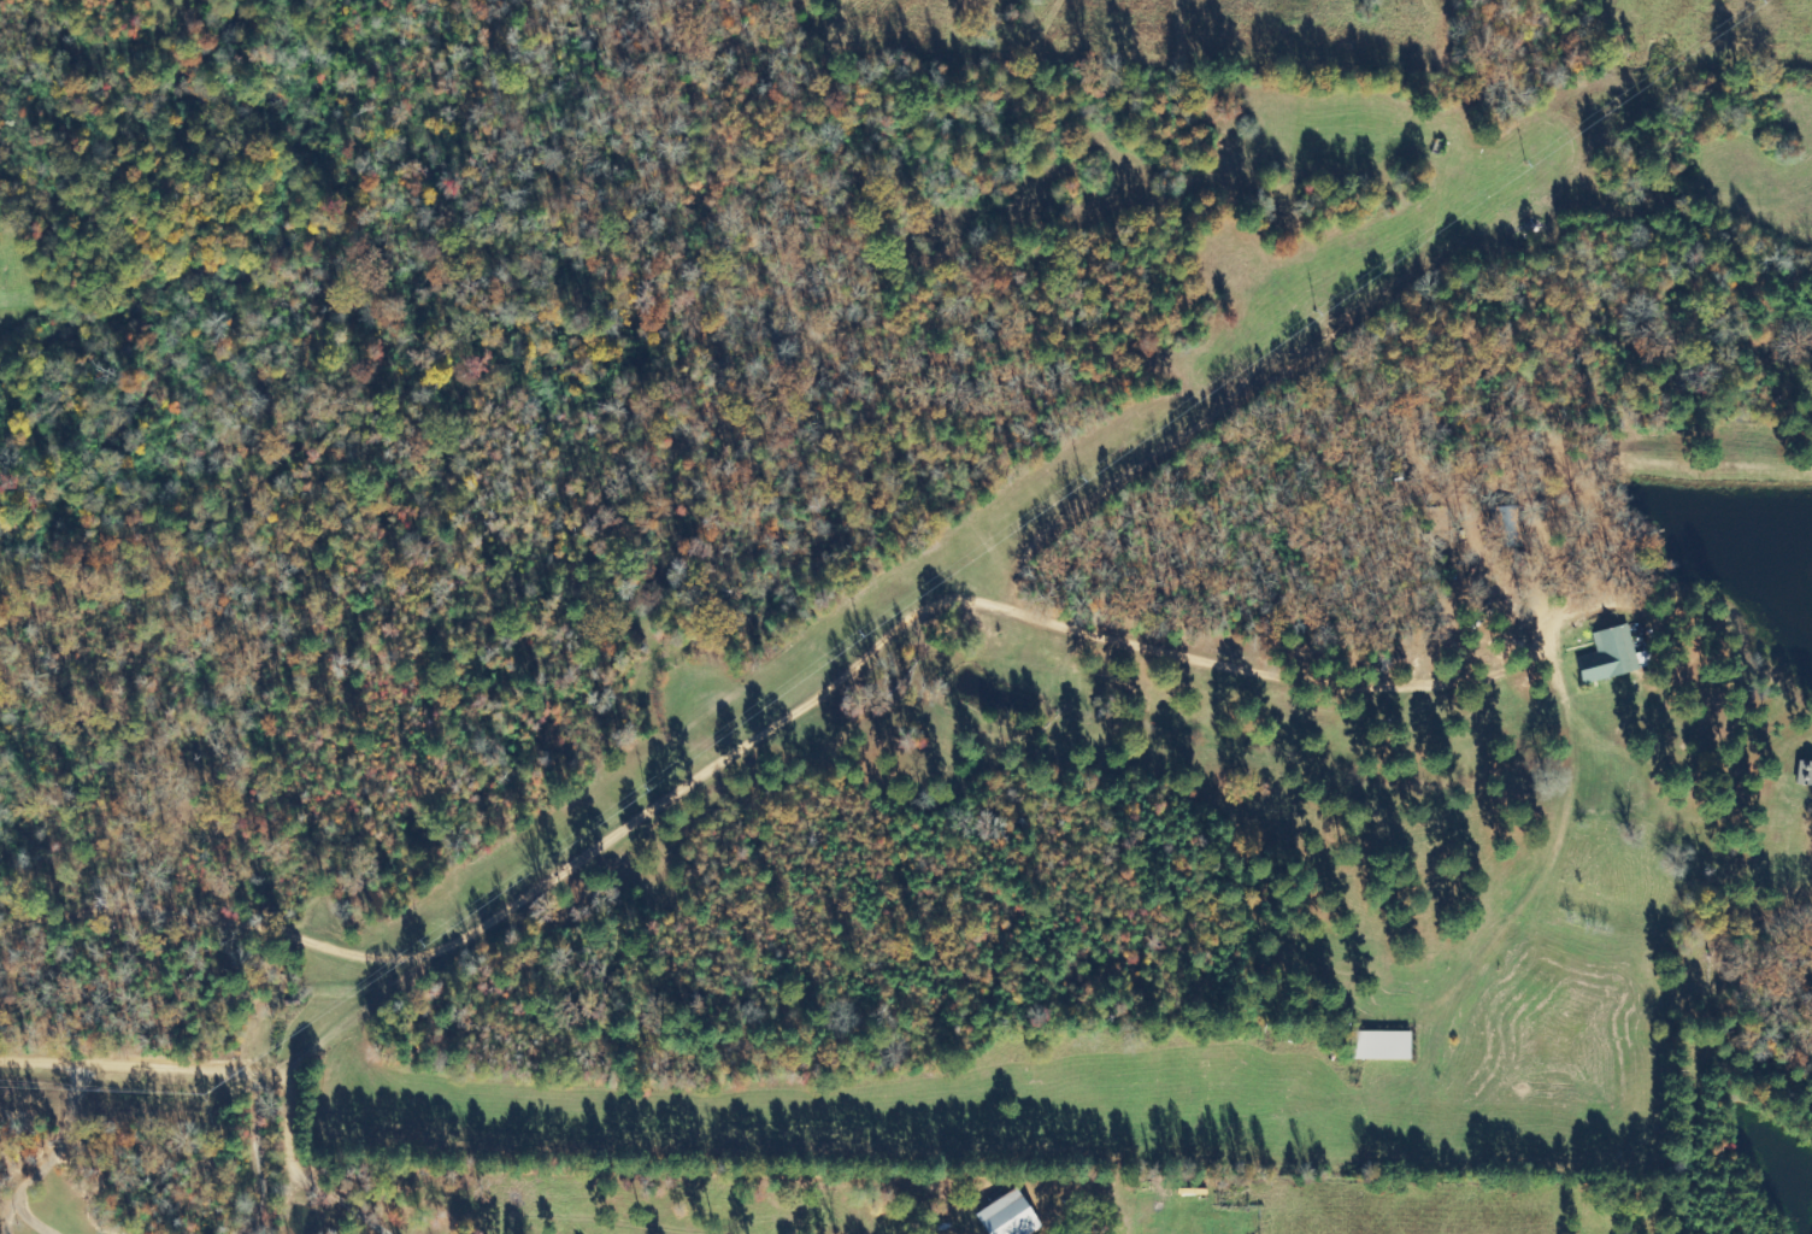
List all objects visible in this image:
road: (37, 53)
building: (1606, 656)
building: (1804, 774)
building: (1378, 1045)
building: (1002, 1216)

